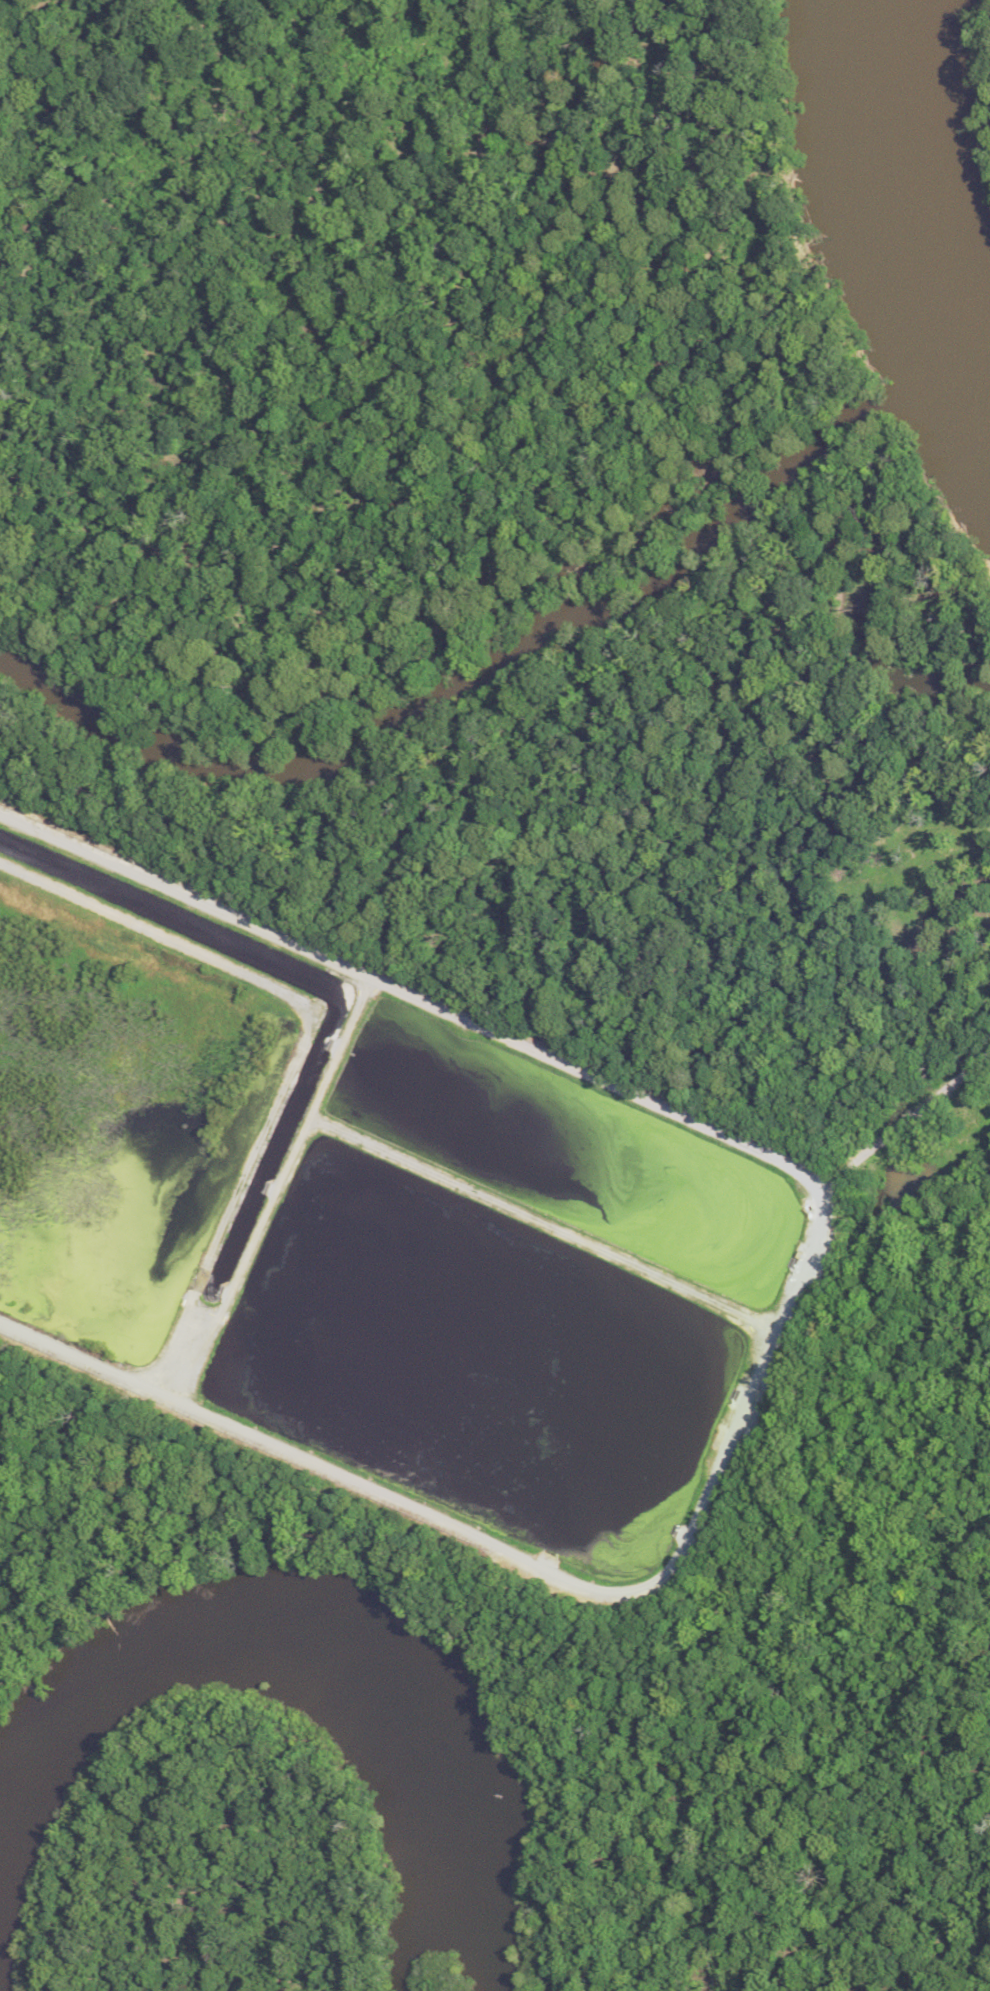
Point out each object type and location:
river: (911, 205)
river: (517, 645)
road: (508, 1044)
road: (519, 1561)

